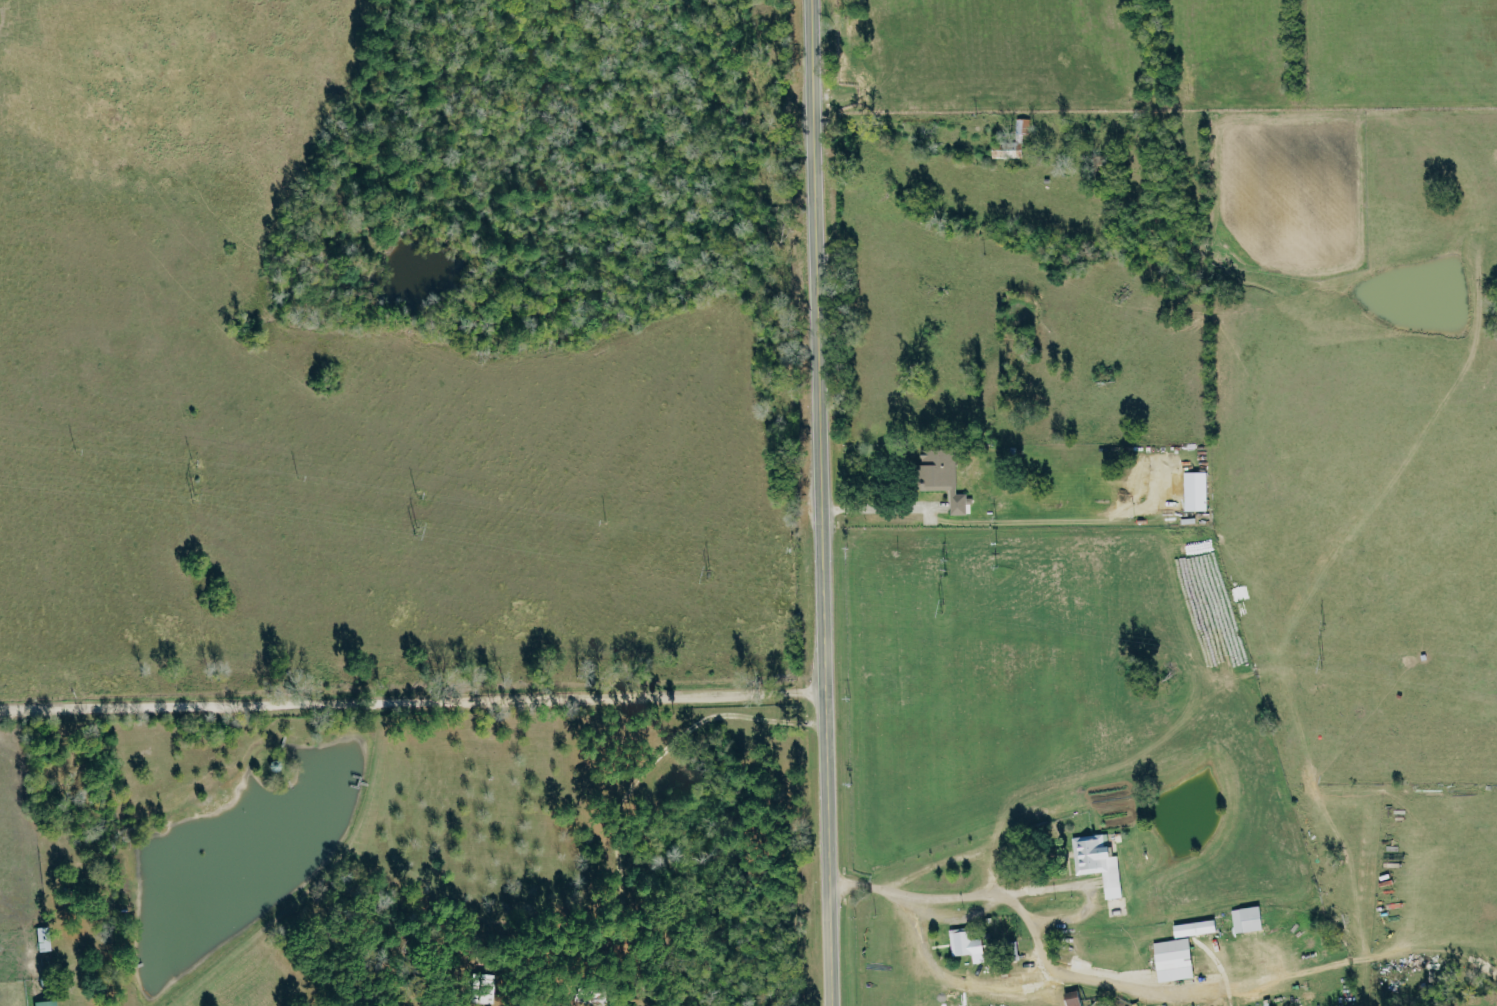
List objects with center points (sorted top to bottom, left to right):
building: (1016, 143)
building: (946, 475)
building: (1199, 490)
power tower: (192, 495)
road: (819, 502)
road: (881, 506)
power tower: (416, 530)
power tower: (708, 576)
power tower: (944, 599)
power tower: (1320, 659)
road: (411, 698)
building: (1103, 864)
road: (1085, 885)
road: (968, 892)
building: (1250, 919)
building: (1199, 928)
building: (968, 942)
building: (1177, 959)
building: (1077, 998)
building: (48, 1003)

